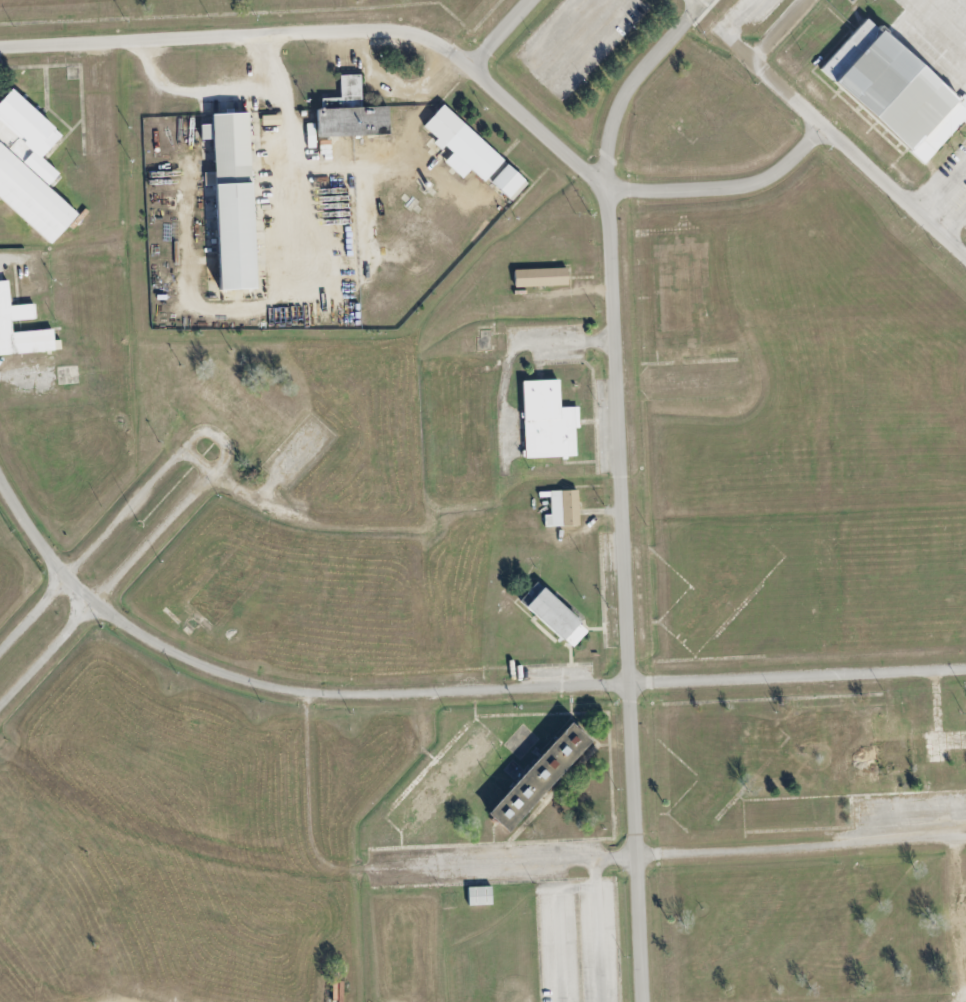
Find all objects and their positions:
airport apron: (964, 1)
road: (695, 3)
road: (332, 25)
road: (731, 31)
road: (500, 35)
airport: (877, 80)
road: (632, 82)
airport hangar: (895, 91)
building: (895, 91)
building: (350, 114)
road: (830, 131)
building: (460, 145)
building: (28, 168)
road: (726, 187)
road: (942, 187)
building: (228, 199)
road: (954, 223)
building: (538, 277)
building: (17, 312)
building: (546, 421)
road: (225, 457)
road: (198, 461)
building: (562, 509)
road: (624, 594)
building: (552, 615)
road: (441, 693)
building: (554, 753)
road: (557, 857)
building: (478, 895)

